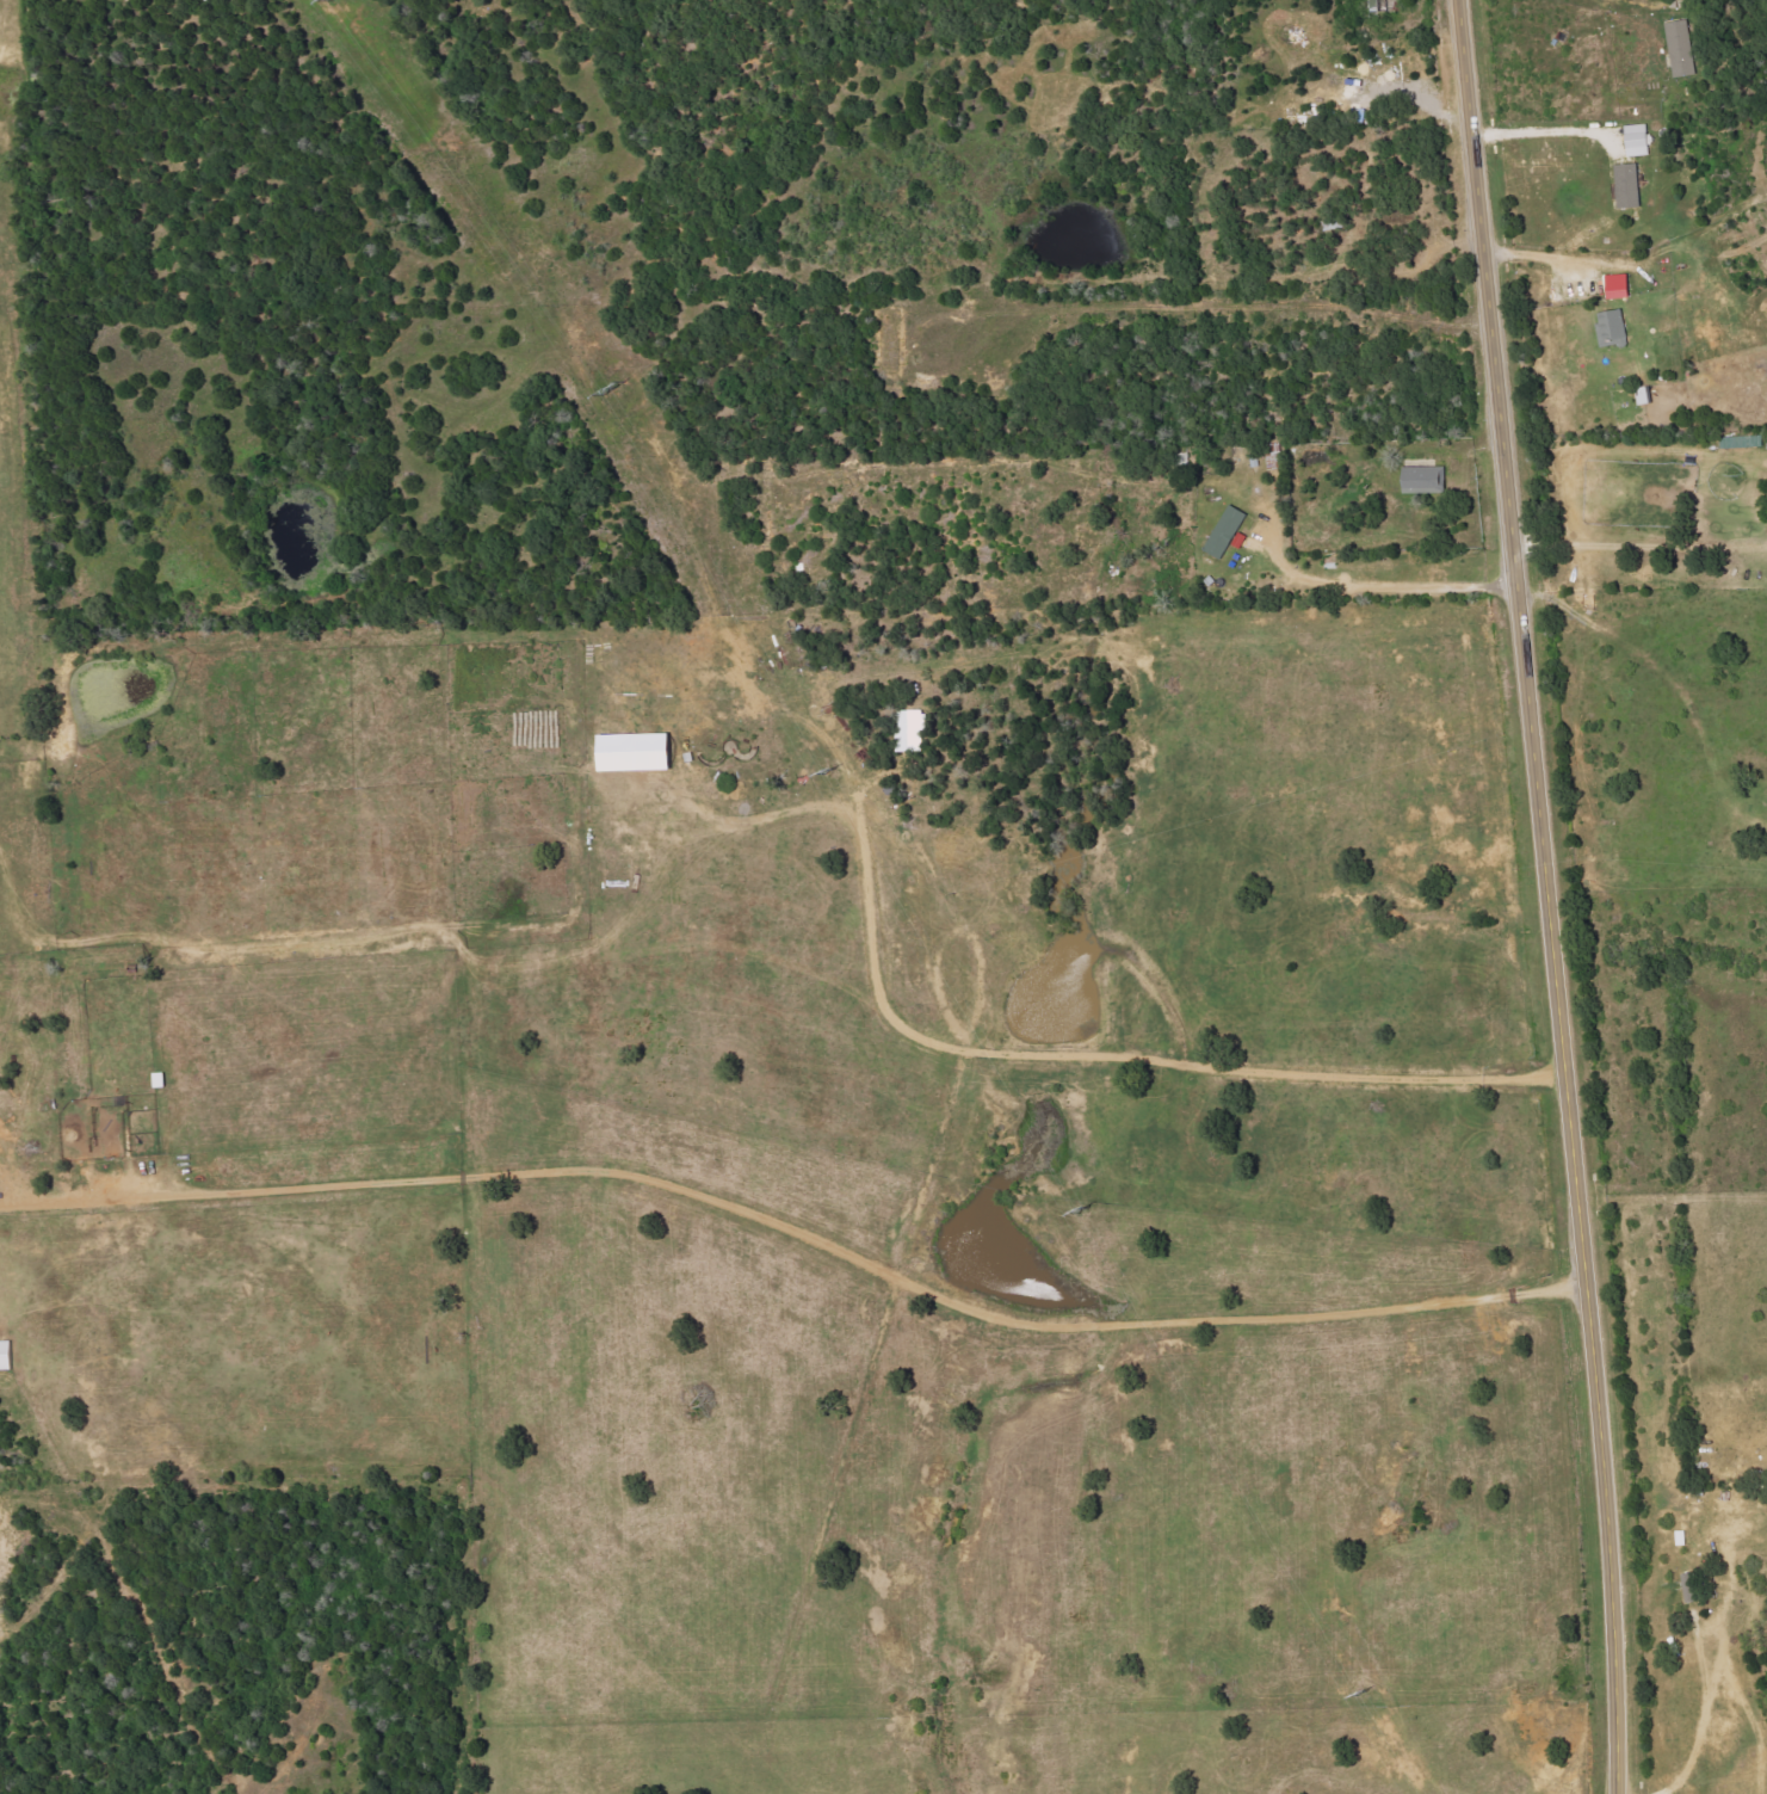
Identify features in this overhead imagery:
road: (1627, 1)
building: (1682, 48)
road: (1544, 131)
building: (1638, 140)
building: (1630, 185)
road: (1544, 263)
building: (1619, 285)
building: (1612, 326)
power tower: (613, 387)
building: (1425, 479)
building: (1227, 531)
road: (1639, 555)
road: (1377, 585)
building: (912, 729)
building: (637, 752)
power tower: (829, 767)
road: (1546, 895)
power tower: (1082, 1209)
road: (796, 1229)
building: (6, 1355)
power tower: (1363, 1690)

